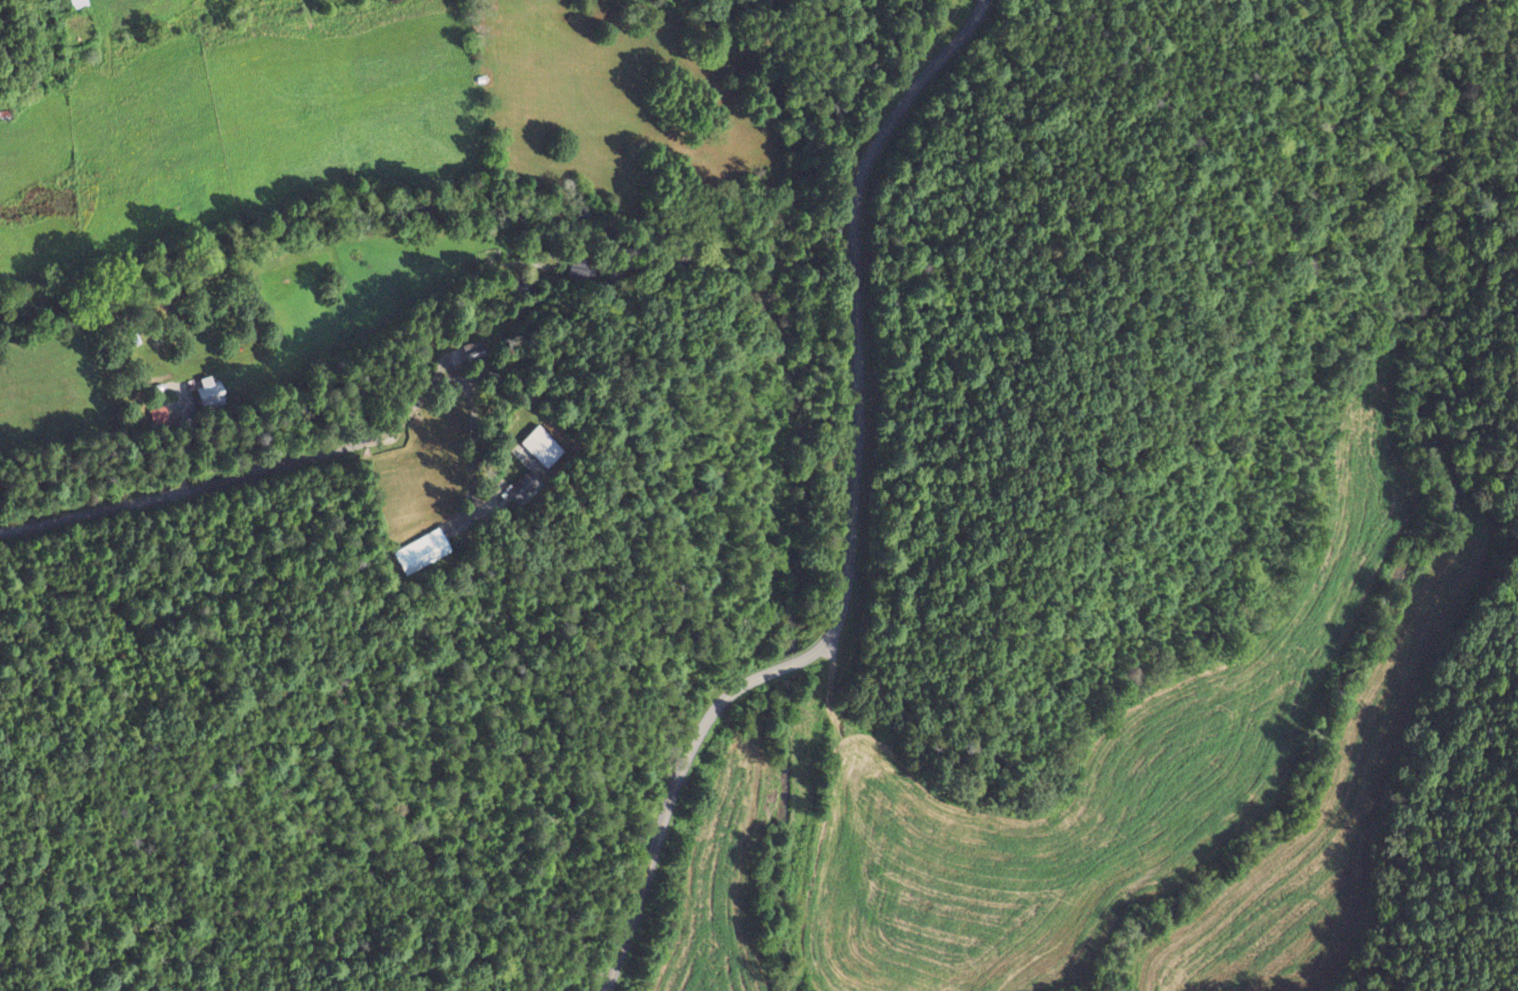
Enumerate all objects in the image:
building: (78, 4)
building: (4, 115)
building: (470, 351)
building: (208, 391)
building: (172, 409)
building: (540, 447)
road: (195, 480)
building: (522, 487)
road: (853, 521)
building: (418, 552)

